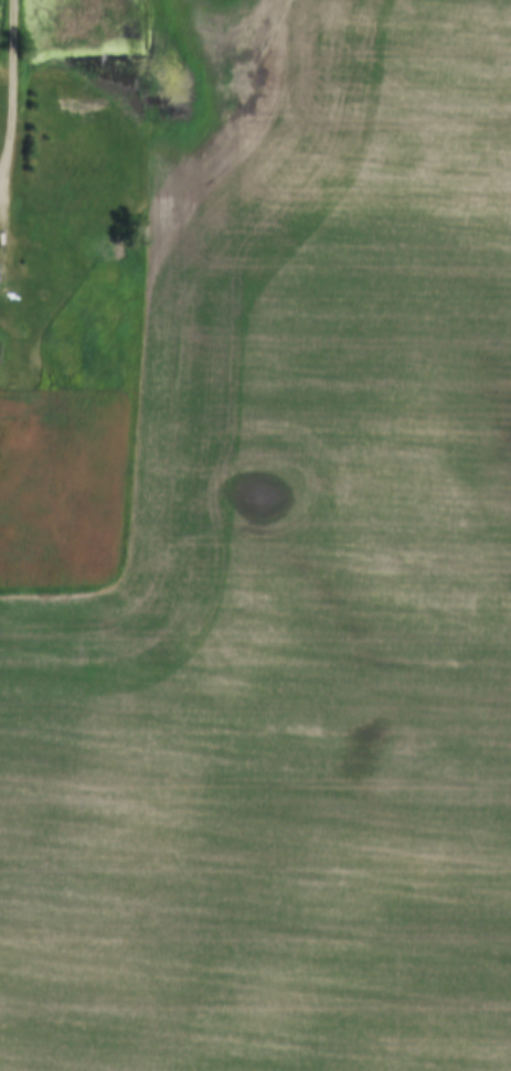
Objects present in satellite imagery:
road: (18, 96)

